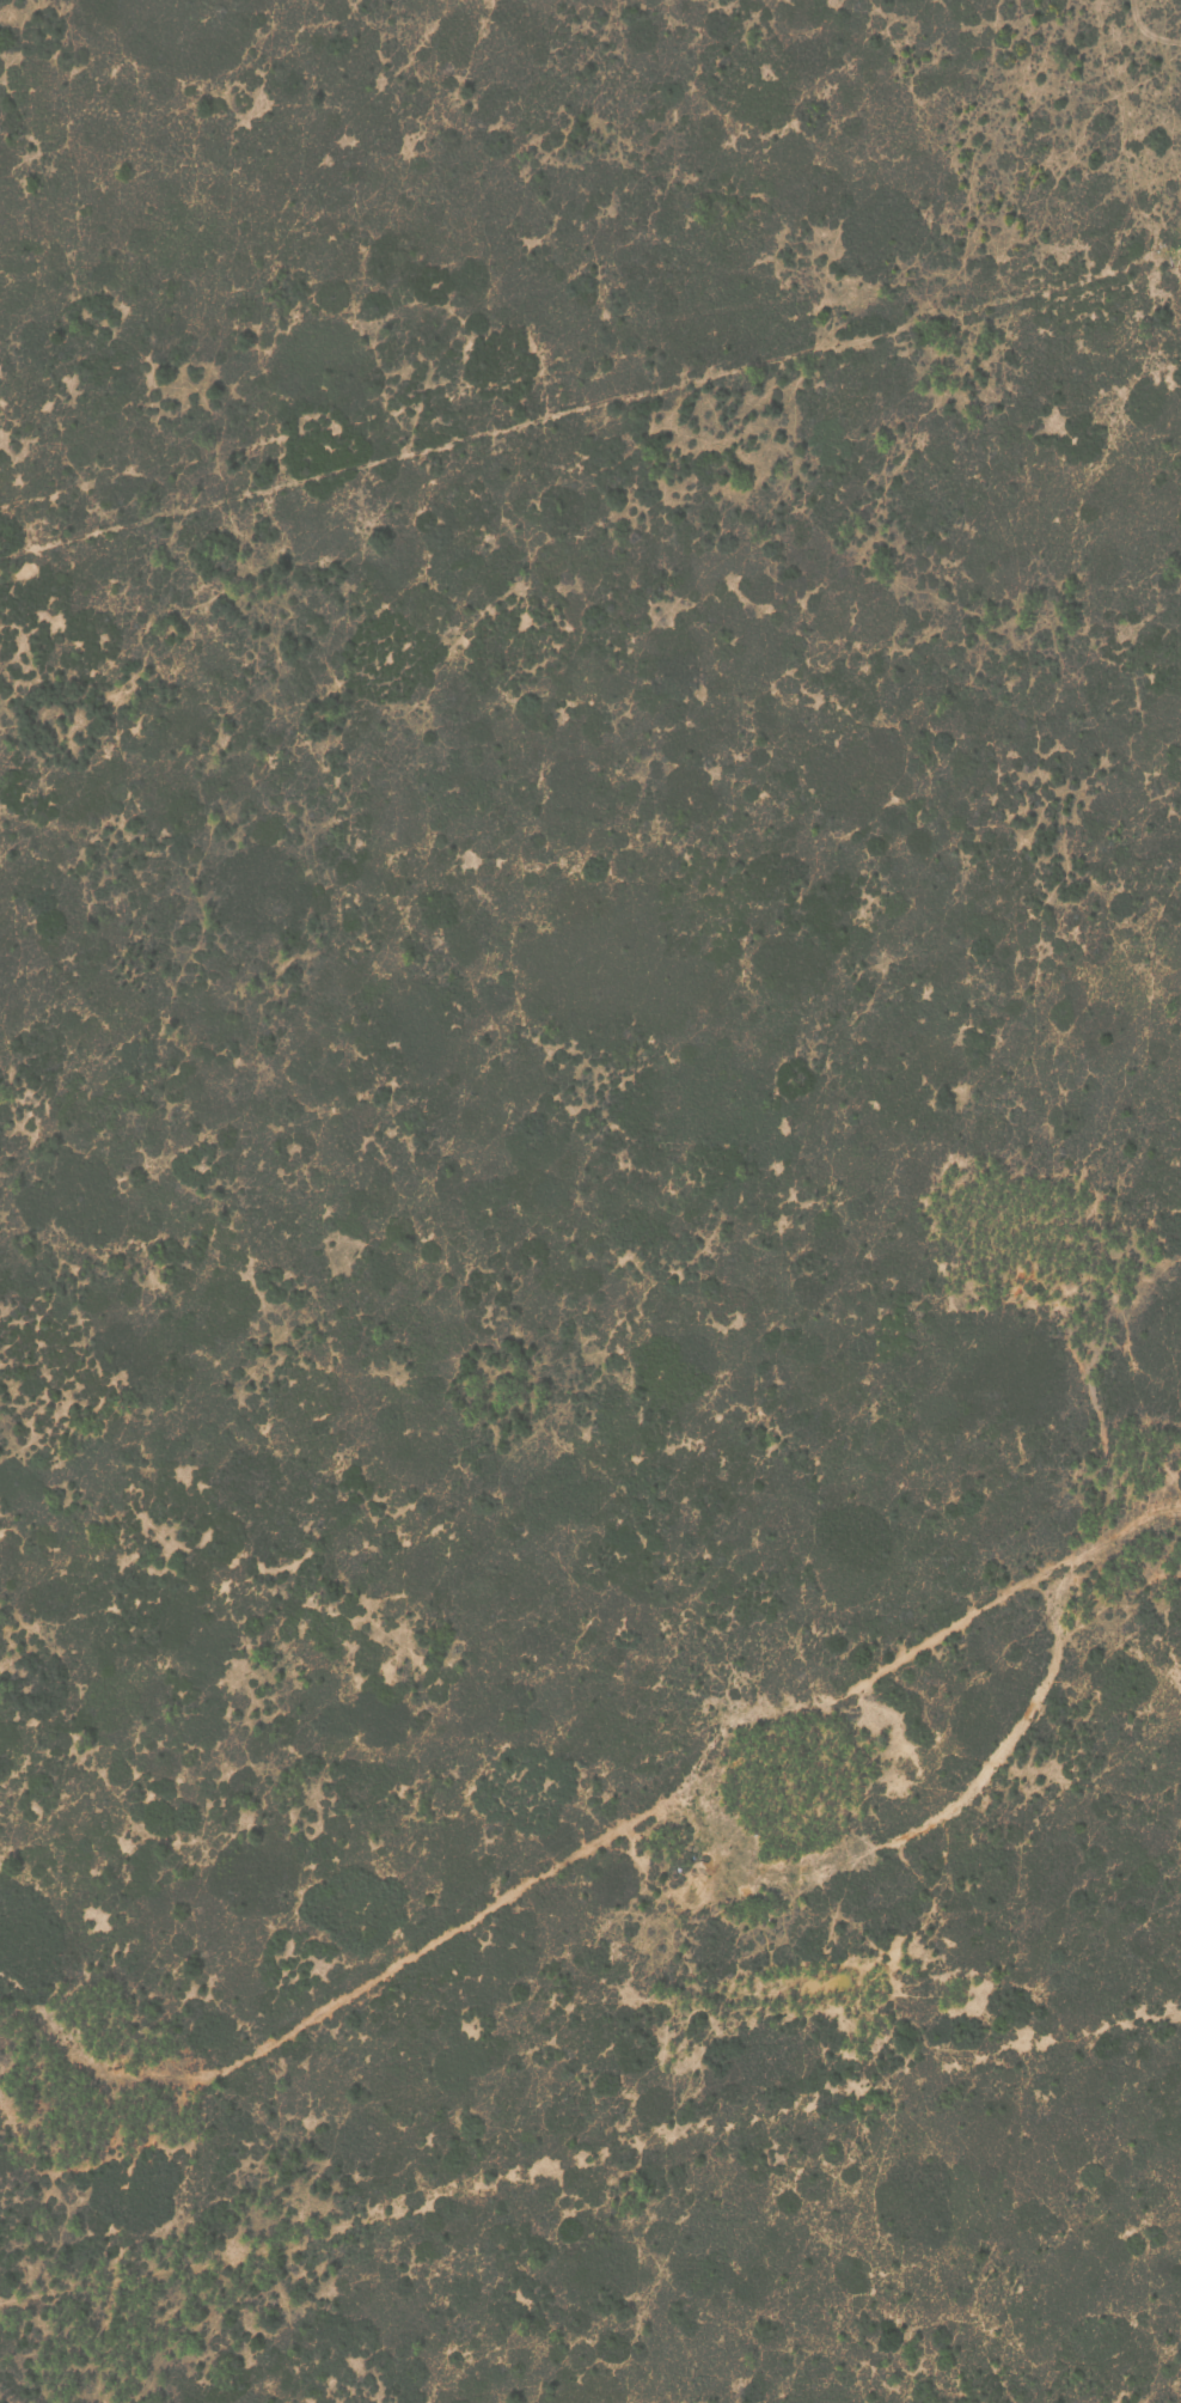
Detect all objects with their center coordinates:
road: (502, 1873)
road: (61, 2045)

